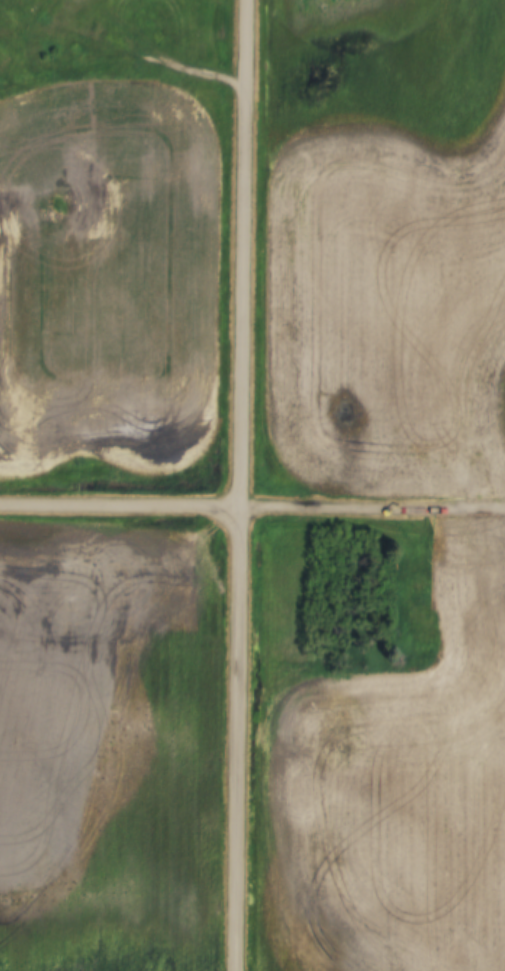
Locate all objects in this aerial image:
road: (144, 47)
road: (240, 485)
road: (120, 504)
road: (372, 508)

